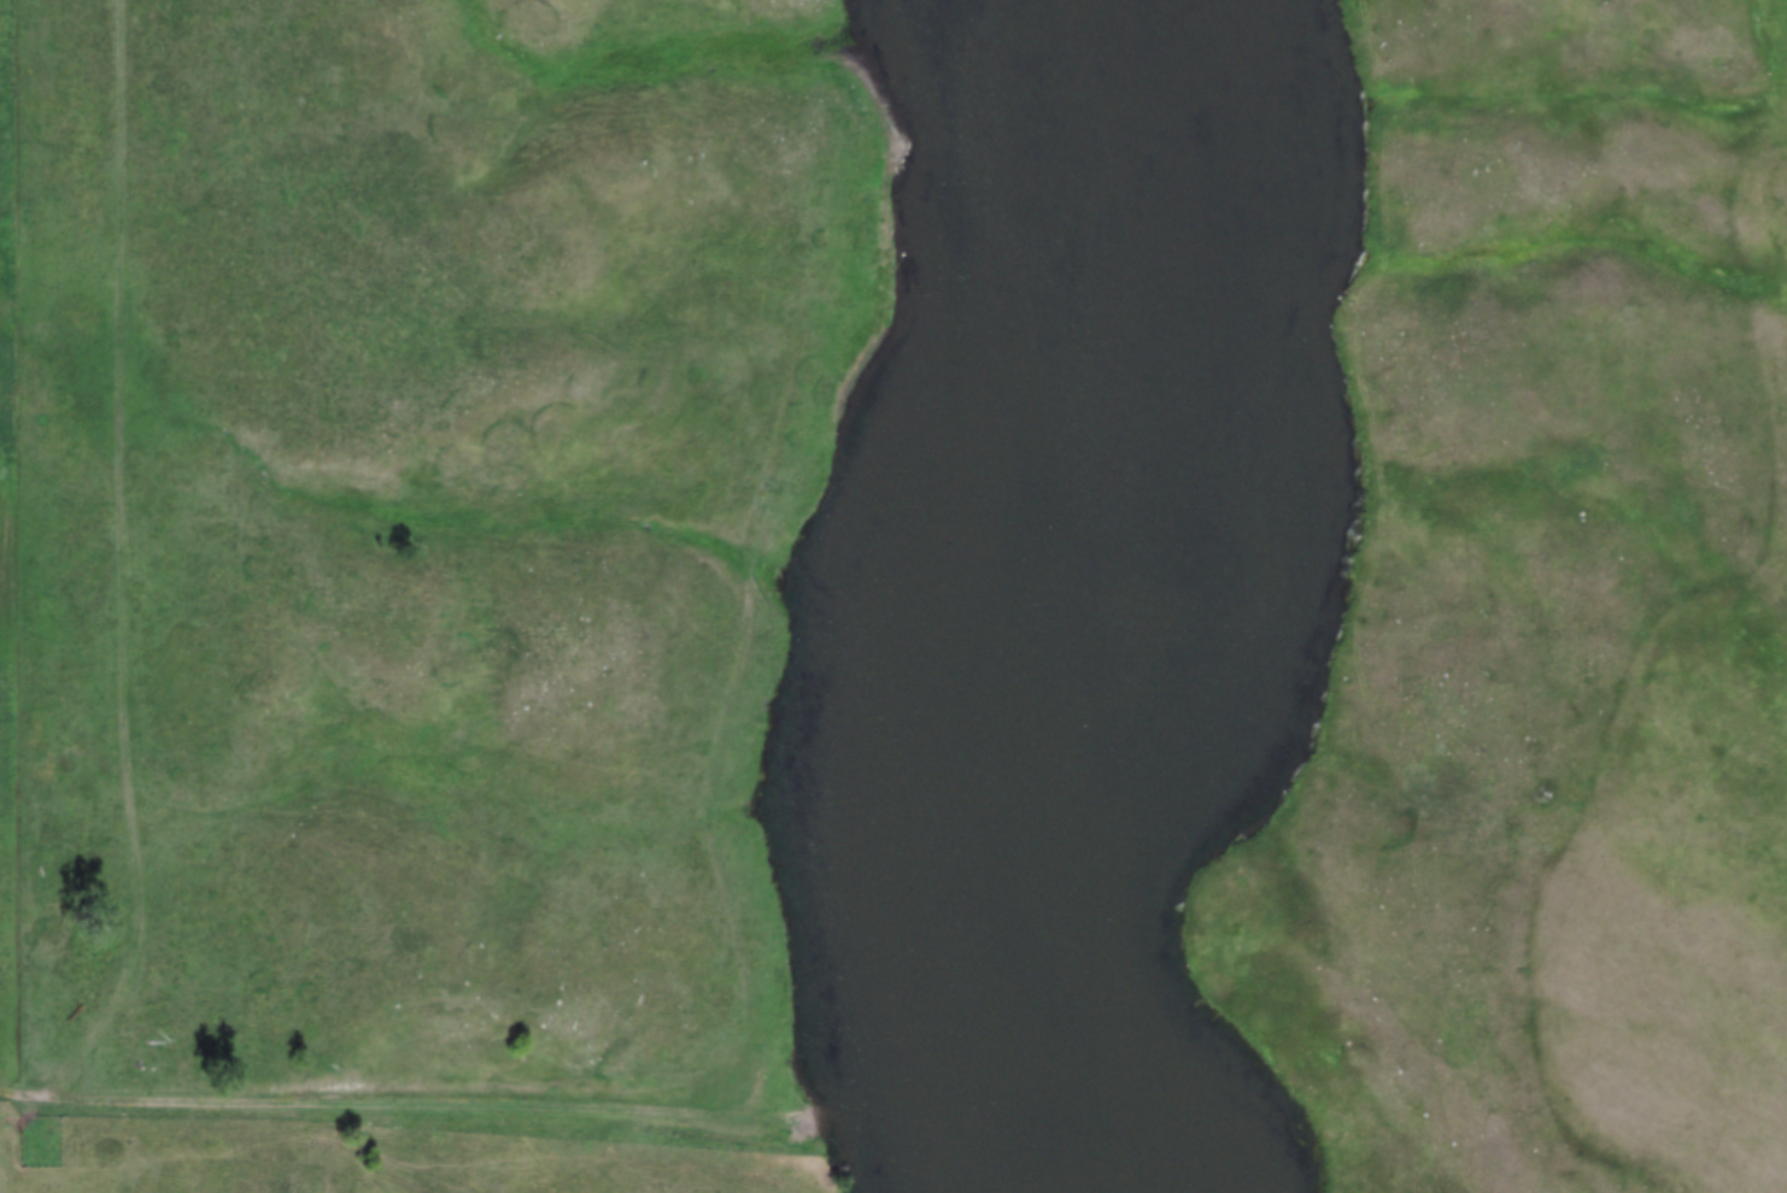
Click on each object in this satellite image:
road: (750, 1097)

